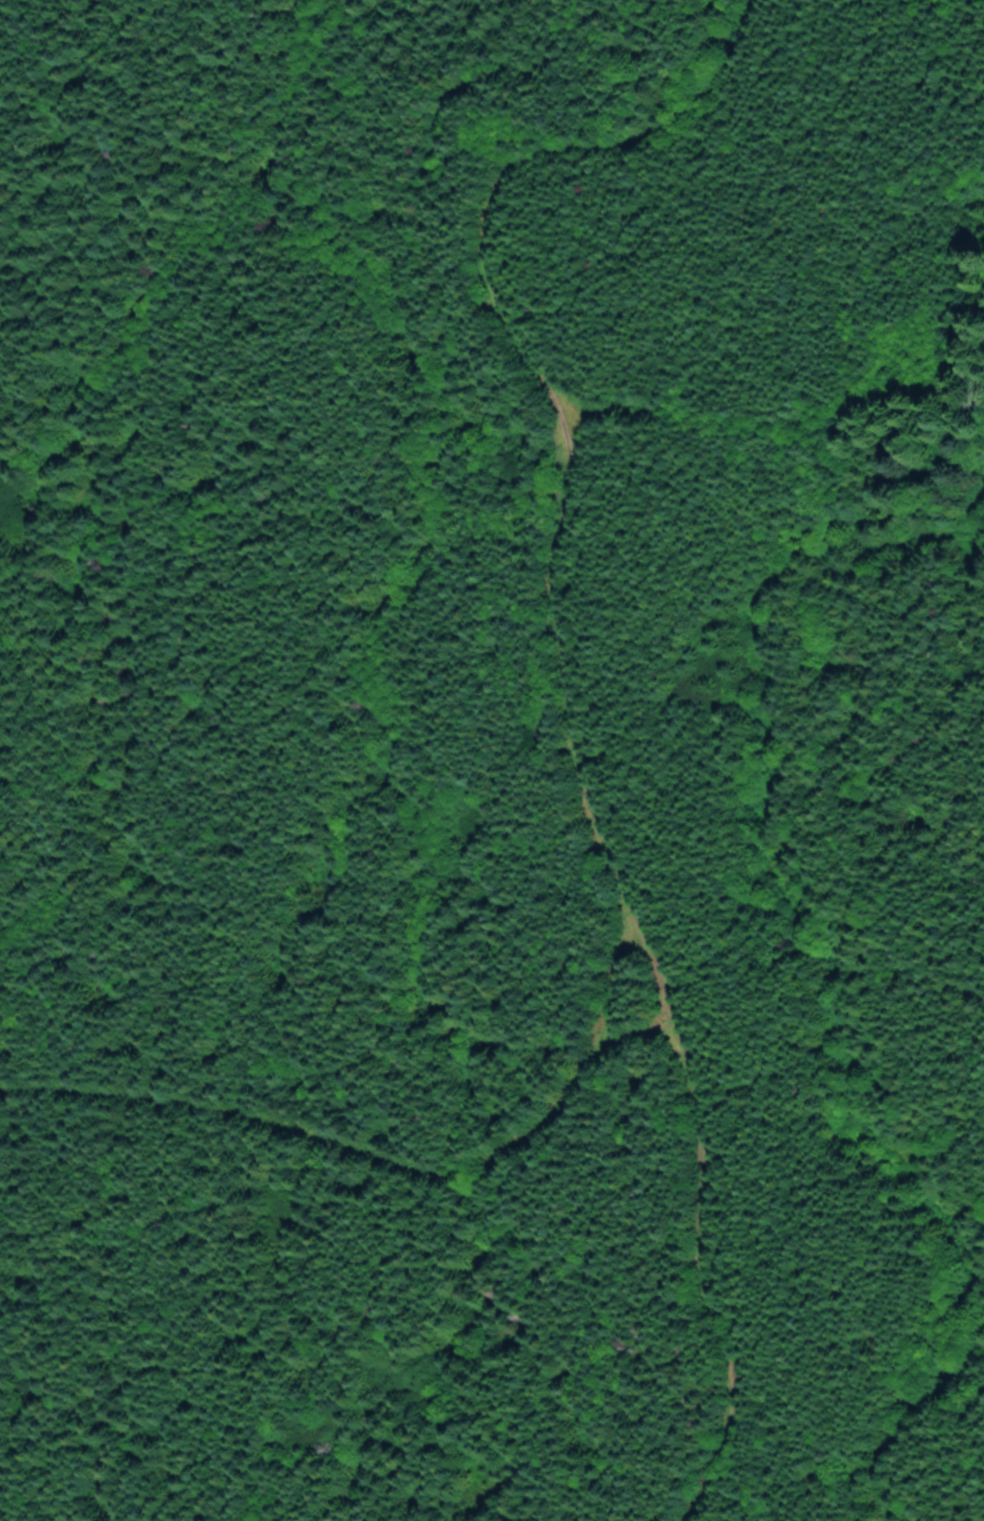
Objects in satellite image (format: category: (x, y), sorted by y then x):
road: (568, 756)

